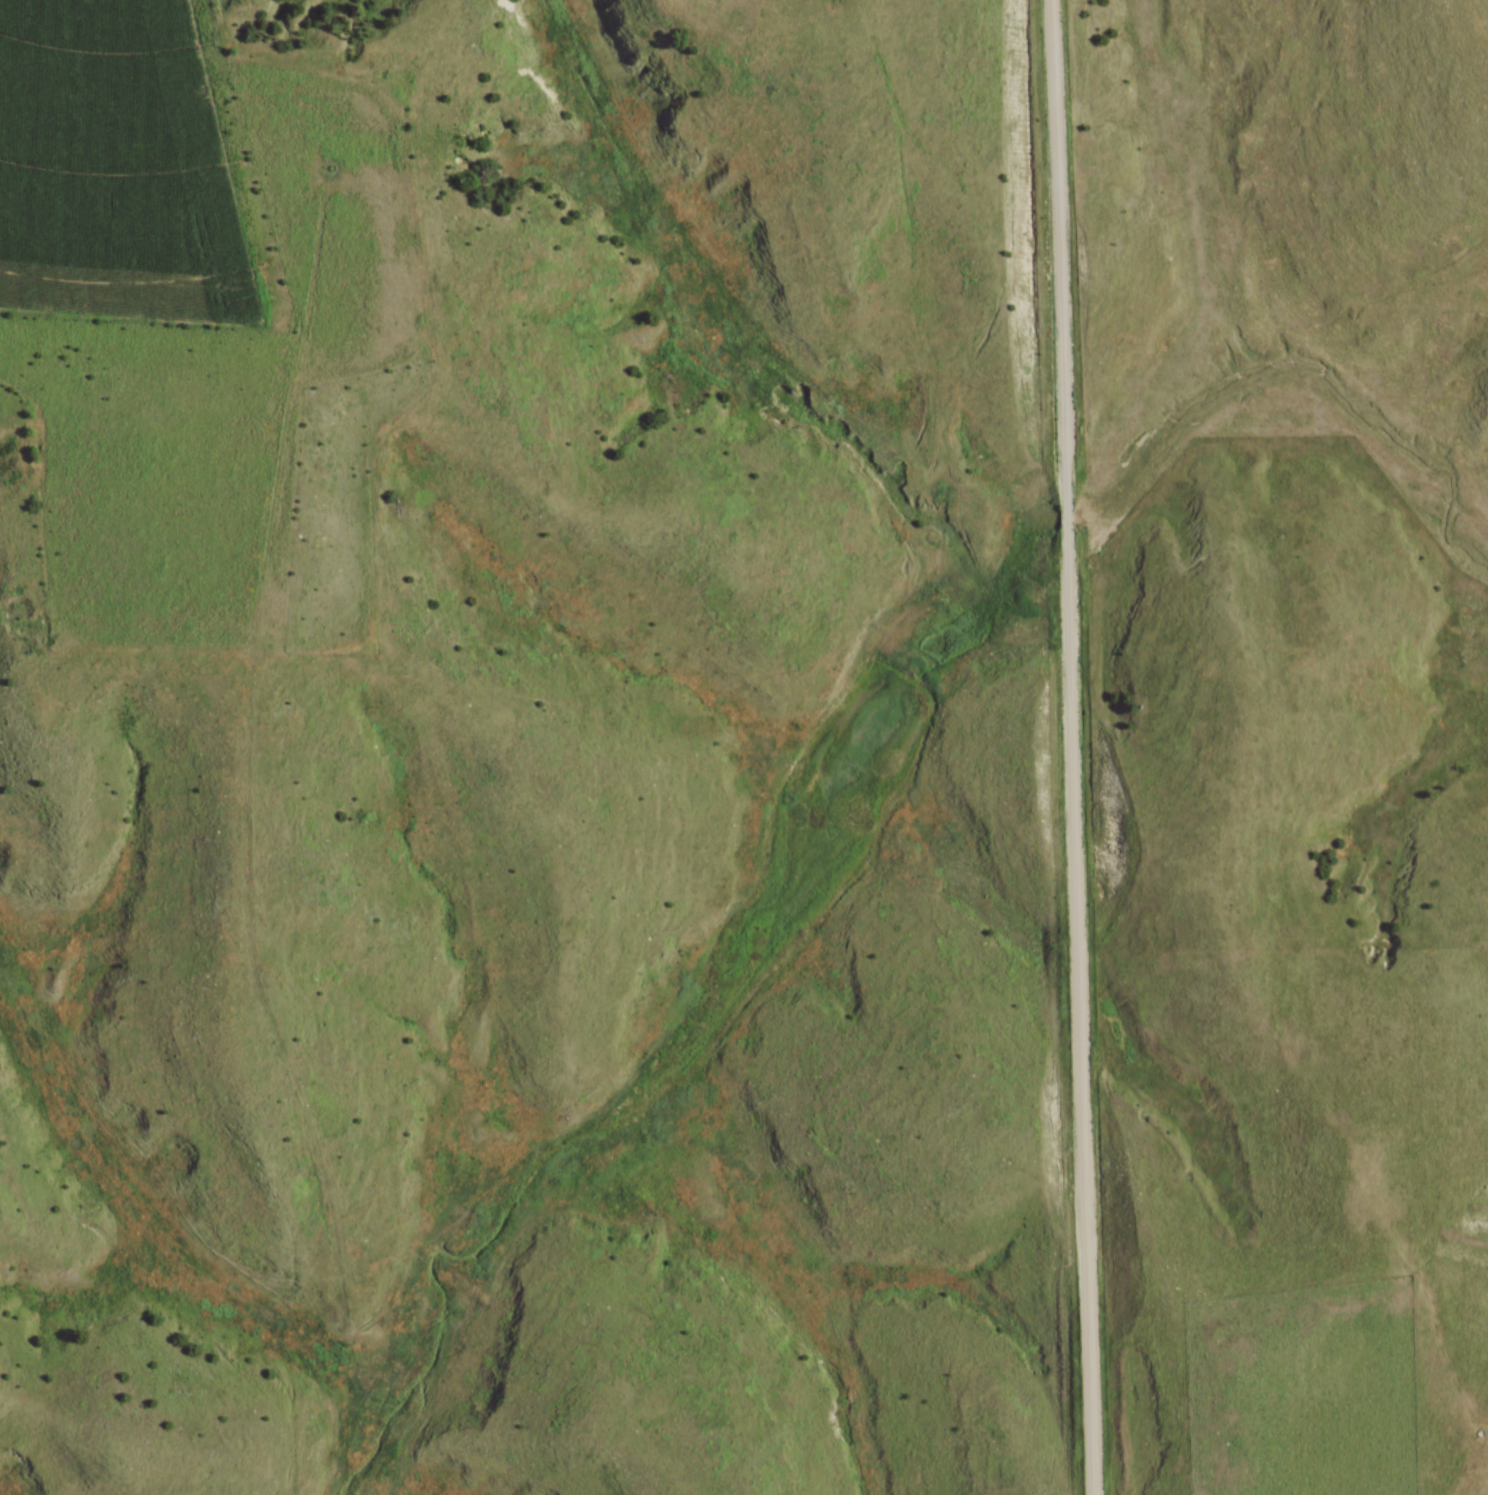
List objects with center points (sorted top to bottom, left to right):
road: (1076, 747)

